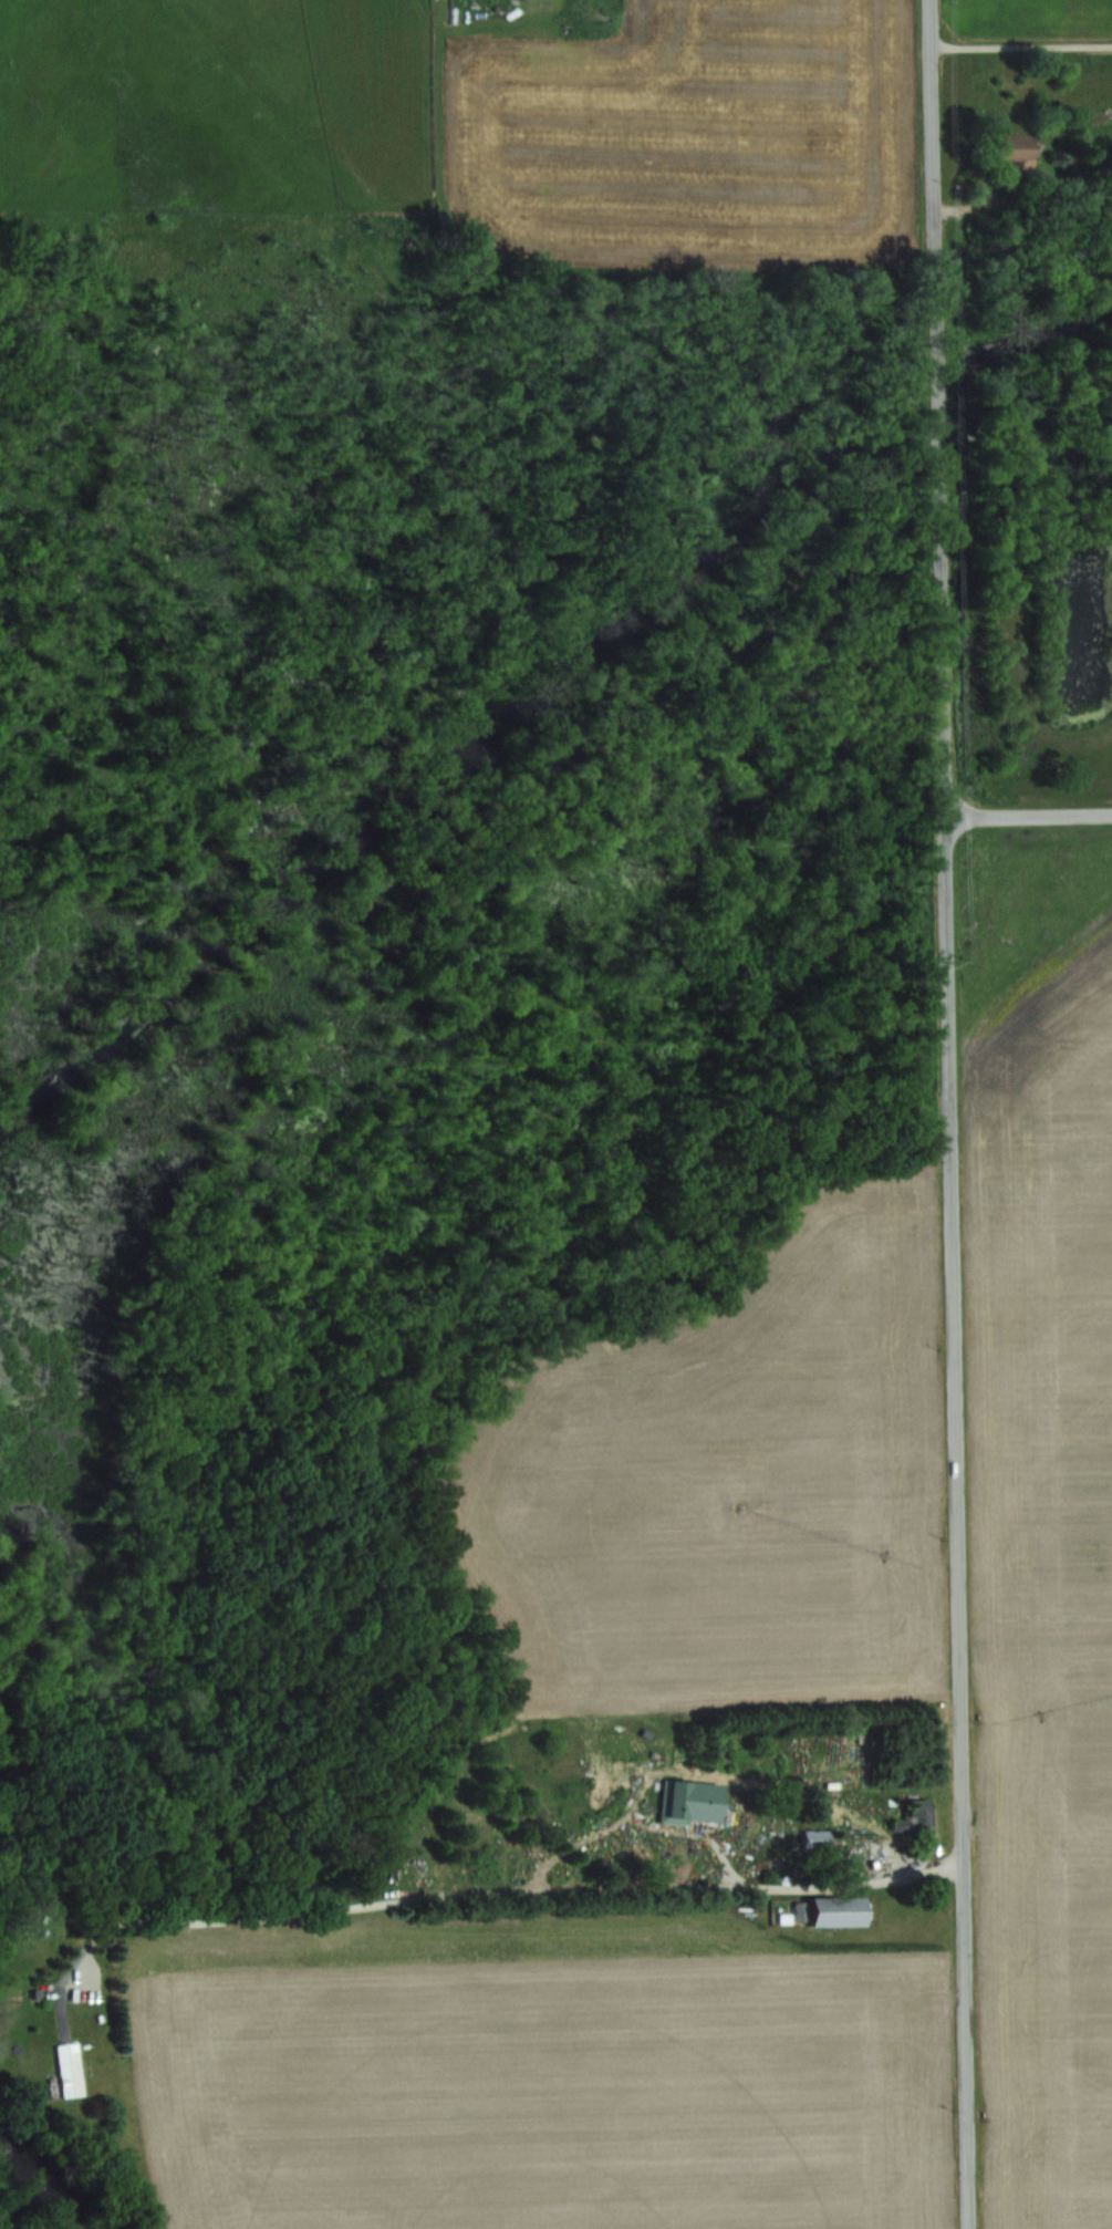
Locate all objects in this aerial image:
road: (1022, 45)
building: (1016, 149)
road: (1028, 812)
road: (952, 1114)
building: (913, 1817)
building: (814, 1839)
road: (493, 1893)
building: (833, 1910)
building: (69, 2069)
river: (50, 2186)

